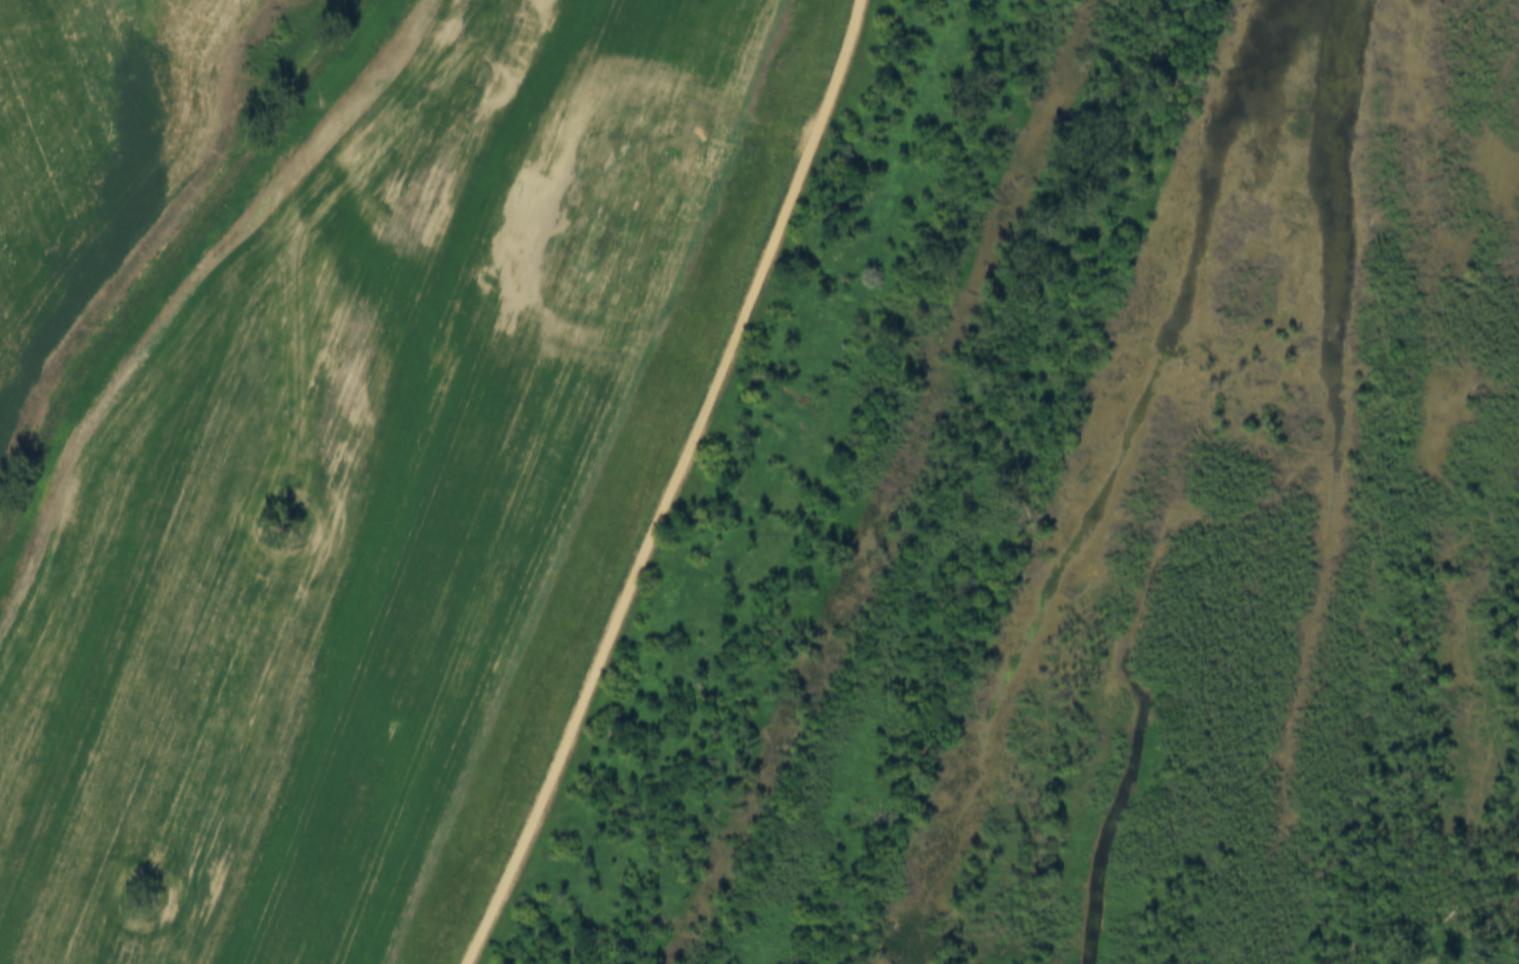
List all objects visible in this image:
road: (666, 484)

